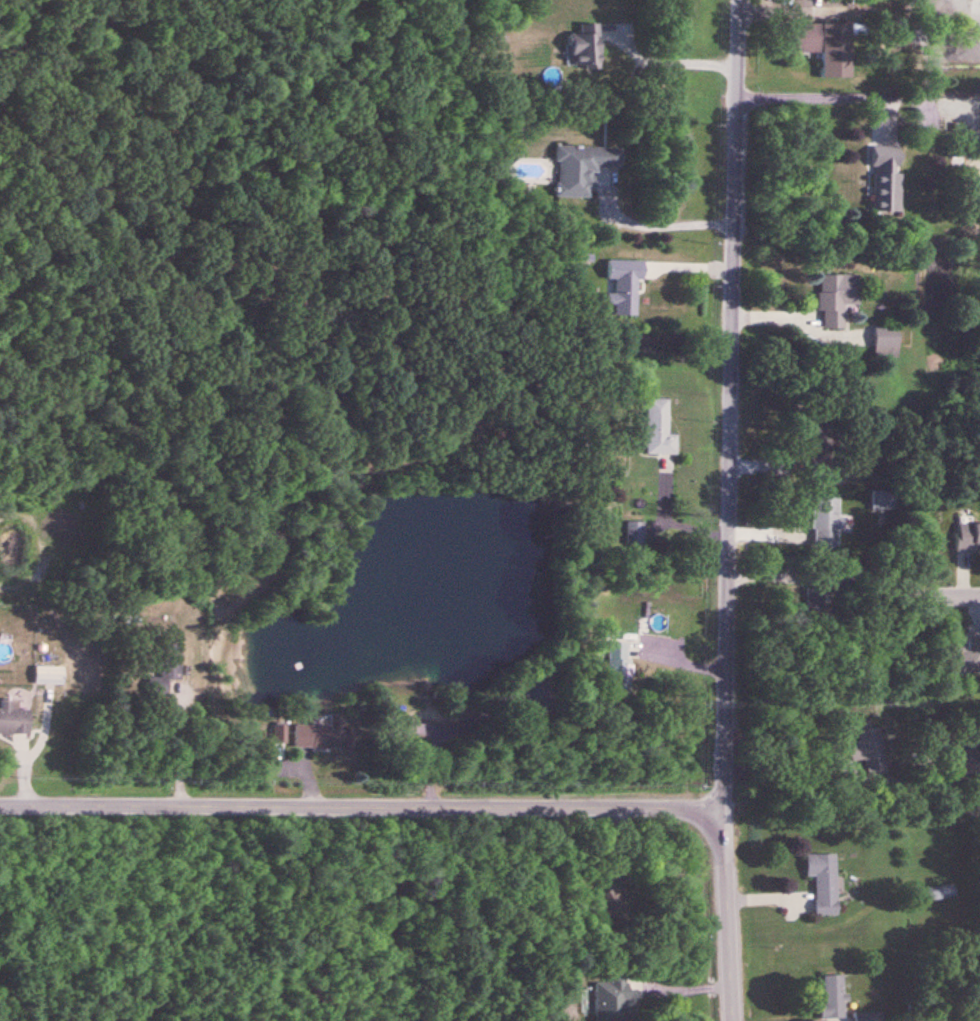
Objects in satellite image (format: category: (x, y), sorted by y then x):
building: (824, 44)
building: (586, 49)
road: (667, 63)
road: (829, 101)
building: (582, 170)
building: (886, 179)
road: (648, 223)
building: (625, 286)
building: (837, 299)
building: (886, 343)
road: (854, 346)
road: (728, 403)
building: (660, 429)
building: (823, 468)
building: (826, 523)
building: (635, 534)
building: (968, 538)
road: (950, 597)
building: (961, 656)
building: (166, 669)
building: (619, 670)
building: (49, 676)
building: (539, 699)
building: (13, 720)
building: (398, 726)
building: (320, 736)
road: (174, 745)
building: (870, 752)
road: (362, 806)
building: (824, 883)
building: (939, 894)
building: (614, 906)
road: (729, 914)
building: (833, 997)
building: (612, 999)

